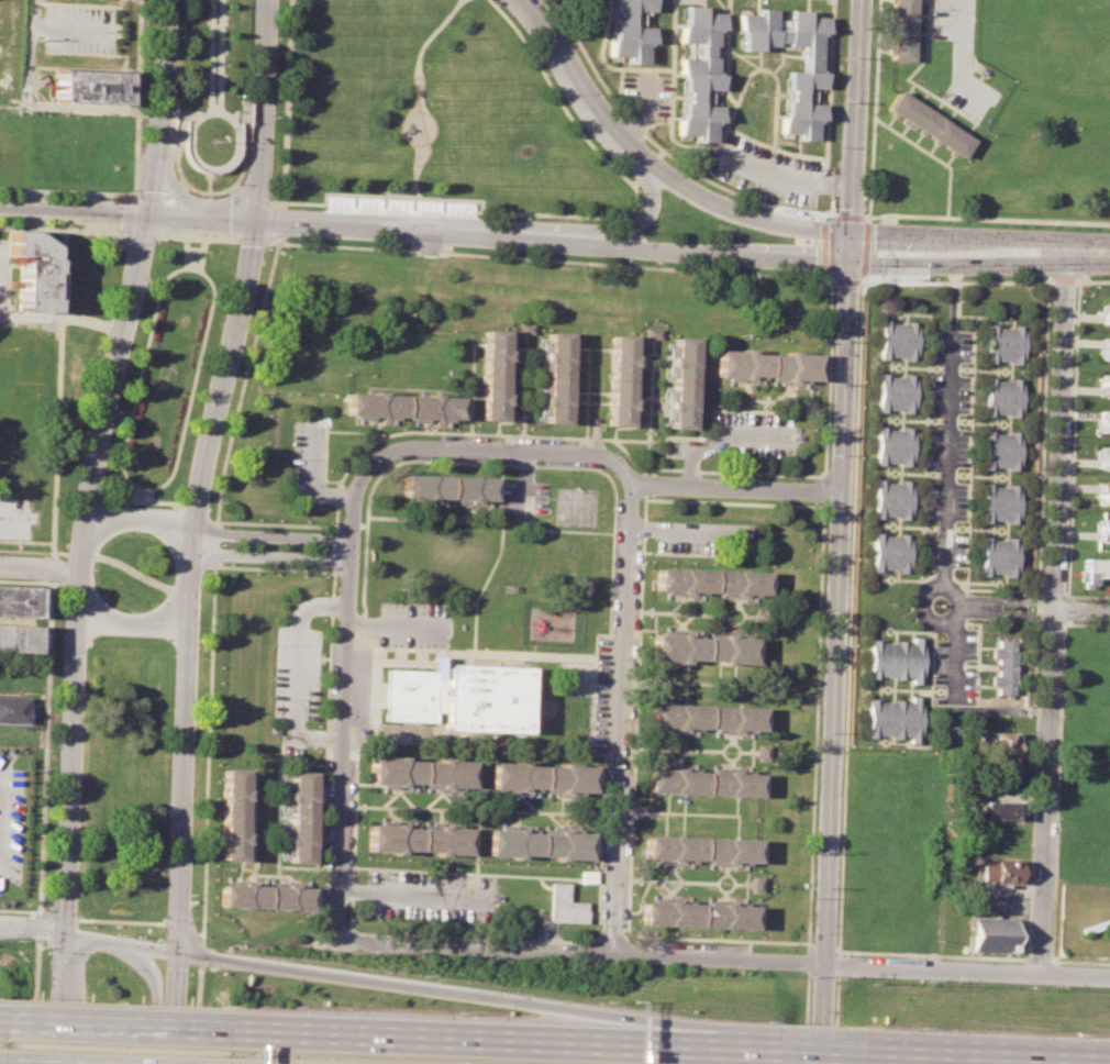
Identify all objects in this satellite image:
road: (720, 8)
road: (78, 29)
parking lot: (81, 29)
building: (901, 29)
building: (629, 31)
parking lot: (10, 49)
road: (724, 53)
parking lot: (961, 55)
road: (963, 55)
road: (741, 58)
road: (604, 64)
building: (697, 74)
road: (570, 75)
road: (743, 76)
building: (802, 80)
building: (92, 86)
road: (419, 92)
parking lot: (646, 93)
park: (212, 95)
road: (138, 98)
road: (286, 100)
road: (825, 106)
road: (44, 107)
road: (244, 109)
road: (264, 109)
road: (873, 111)
road: (186, 112)
road: (211, 112)
road: (226, 113)
park: (431, 113)
road: (644, 113)
road: (244, 115)
road: (852, 115)
street lamp: (274, 117)
building: (928, 122)
street lamp: (146, 123)
road: (178, 130)
road: (244, 134)
road: (647, 138)
flagpole: (211, 142)
road: (701, 145)
road: (931, 155)
road: (210, 167)
street lamp: (175, 169)
road: (823, 169)
parking lot: (763, 170)
road: (785, 175)
road: (828, 179)
road: (210, 184)
street lamp: (132, 188)
road: (410, 189)
road: (209, 190)
road: (67, 192)
road: (633, 192)
road: (343, 193)
street lamp: (43, 195)
street lamp: (204, 196)
street lamp: (84, 197)
road: (163, 198)
road: (753, 200)
road: (211, 210)
road: (728, 210)
road: (274, 212)
road: (833, 212)
road: (124, 213)
road: (129, 213)
road: (847, 213)
traffic signals: (148, 214)
road: (830, 214)
road: (985, 218)
street lamp: (84, 219)
traffic signals: (257, 219)
street lamp: (41, 222)
road: (359, 224)
road: (32, 228)
road: (607, 229)
road: (92, 230)
traffic signals: (847, 231)
road: (141, 234)
road: (198, 234)
road: (957, 234)
road: (121, 235)
street lamp: (285, 237)
street lamp: (122, 242)
road: (829, 246)
road: (847, 246)
road: (655, 247)
road: (863, 247)
street lamp: (266, 248)
road: (1088, 250)
road: (186, 251)
road: (201, 252)
road: (551, 259)
traffic signals: (848, 262)
road: (958, 263)
road: (189, 267)
building: (32, 271)
parking lot: (4, 274)
street lamp: (884, 276)
road: (828, 277)
road: (845, 279)
road: (1092, 279)
road: (1064, 280)
road: (956, 281)
street lamp: (826, 287)
street lamp: (1046, 298)
building: (1106, 310)
street lamp: (110, 314)
road: (62, 319)
street lamp: (220, 322)
building: (524, 328)
building: (651, 332)
building: (896, 339)
building: (1007, 344)
parking lot: (951, 346)
building: (1105, 347)
building: (766, 363)
park: (167, 367)
street lamp: (1070, 369)
building: (493, 374)
road: (138, 378)
building: (556, 378)
building: (619, 379)
street lamp: (831, 380)
building: (681, 381)
building: (1106, 384)
road: (471, 388)
road: (585, 391)
building: (893, 392)
parking lot: (948, 392)
building: (1004, 398)
building: (402, 404)
road: (648, 404)
road: (530, 409)
street lamp: (116, 411)
street lamp: (227, 415)
road: (57, 417)
building: (1105, 419)
road: (502, 421)
road: (379, 422)
road: (522, 422)
road: (946, 423)
road: (376, 424)
road: (428, 425)
road: (625, 426)
road: (328, 431)
street lamp: (437, 435)
road: (593, 436)
parking lot: (743, 437)
road: (1040, 437)
road: (637, 439)
road: (720, 439)
road: (1072, 439)
building: (891, 446)
parking lot: (946, 446)
road: (491, 448)
street lamp: (613, 450)
building: (1001, 451)
street lamp: (828, 452)
street lamp: (365, 455)
road: (224, 457)
building: (1103, 458)
road: (310, 459)
parking lot: (309, 461)
road: (93, 463)
road: (968, 465)
road: (690, 469)
road: (329, 472)
street lamp: (704, 475)
street lamp: (1066, 477)
street lamp: (812, 478)
road: (356, 480)
road: (525, 480)
road: (319, 483)
road: (735, 486)
building: (451, 487)
building: (1102, 491)
street lamp: (73, 494)
road: (142, 494)
road: (330, 494)
parking lot: (525, 497)
street lamp: (181, 498)
road: (140, 499)
building: (889, 499)
parking lot: (945, 500)
road: (366, 502)
building: (1000, 503)
street lamp: (640, 511)
road: (196, 513)
parking lot: (15, 517)
road: (20, 517)
road: (524, 518)
road: (434, 519)
road: (613, 520)
road: (213, 521)
road: (217, 523)
road: (351, 528)
road: (687, 529)
building: (1101, 529)
street lamp: (135, 531)
road: (565, 531)
road: (214, 532)
road: (214, 542)
street lamp: (222, 544)
road: (334, 545)
street lamp: (325, 547)
street lamp: (360, 550)
parking lot: (943, 550)
street lamp: (824, 551)
building: (888, 553)
road: (270, 556)
building: (998, 556)
road: (498, 558)
road: (52, 566)
road: (123, 567)
building: (1095, 567)
street lamp: (91, 568)
park: (131, 569)
street lamp: (171, 572)
street lamp: (33, 578)
building: (711, 580)
road: (190, 583)
street lamp: (1063, 590)
road: (1051, 591)
road: (1063, 591)
road: (1088, 595)
building: (18, 600)
road: (1004, 600)
road: (92, 607)
road: (1035, 607)
road: (1065, 608)
street lamp: (131, 609)
road: (1080, 609)
street lamp: (822, 610)
road: (1052, 610)
road: (836, 611)
road: (920, 612)
road: (1004, 613)
street lamp: (60, 617)
street lamp: (637, 619)
street lamp: (1073, 620)
road: (1035, 622)
road: (1051, 623)
road: (1085, 623)
parking lot: (415, 624)
road: (398, 625)
building: (19, 638)
building: (701, 647)
road: (442, 651)
street lamp: (173, 654)
road: (951, 660)
building: (893, 661)
building: (1002, 668)
road: (299, 674)
road: (329, 674)
parking lot: (298, 684)
parking lot: (363, 688)
building: (457, 697)
street lamp: (1058, 702)
building: (12, 708)
road: (621, 708)
road: (844, 711)
building: (704, 717)
building: (890, 719)
road: (45, 721)
street lamp: (195, 721)
street lamp: (632, 728)
street lamp: (818, 731)
building: (1000, 741)
road: (526, 744)
road: (207, 749)
road: (345, 751)
building: (762, 752)
building: (1002, 762)
building: (420, 772)
building: (540, 775)
building: (702, 782)
park: (123, 785)
road: (1056, 788)
road: (1032, 789)
road: (0, 790)
street lamp: (55, 794)
street lamp: (166, 801)
building: (999, 809)
building: (232, 813)
building: (300, 816)
street lamp: (1054, 816)
parking lot: (12, 817)
street lamp: (630, 835)
building: (418, 838)
building: (539, 843)
building: (700, 847)
street lamp: (813, 849)
building: (1000, 849)
building: (1000, 869)
building: (756, 883)
road: (1011, 888)
street lamp: (76, 893)
street lamp: (188, 894)
road: (415, 894)
parking lot: (429, 894)
building: (264, 897)
building: (564, 902)
road: (19, 910)
building: (696, 915)
road: (99, 920)
building: (873, 920)
street lamp: (623, 924)
road: (178, 930)
traffic signals: (64, 932)
street lamp: (120, 932)
road: (473, 932)
street lamp: (810, 932)
street lamp: (1050, 934)
building: (989, 935)
road: (88, 936)
street lamp: (16, 939)
road: (804, 942)
road: (477, 947)
road: (197, 950)
traffic signals: (176, 954)
street lamp: (366, 954)
road: (718, 957)
road: (1037, 957)
street lamp: (486, 960)
street lamp: (47, 961)
road: (1079, 961)
street lamp: (606, 963)
street lamp: (108, 967)
road: (967, 967)
street lamp: (124, 968)
street lamp: (728, 971)
street lamp: (185, 973)
street lamp: (947, 980)
street lamp: (1054, 985)
road: (34, 987)
road: (434, 990)
road: (62, 998)
road: (173, 1009)
street lamp: (808, 1009)
park: (113, 1011)
road: (195, 1012)
road: (822, 1012)
road: (0, 1019)
road: (111, 1024)
road: (455, 1038)
road: (732, 1049)
road: (63, 1053)
road: (820, 1053)
road: (980, 1060)

